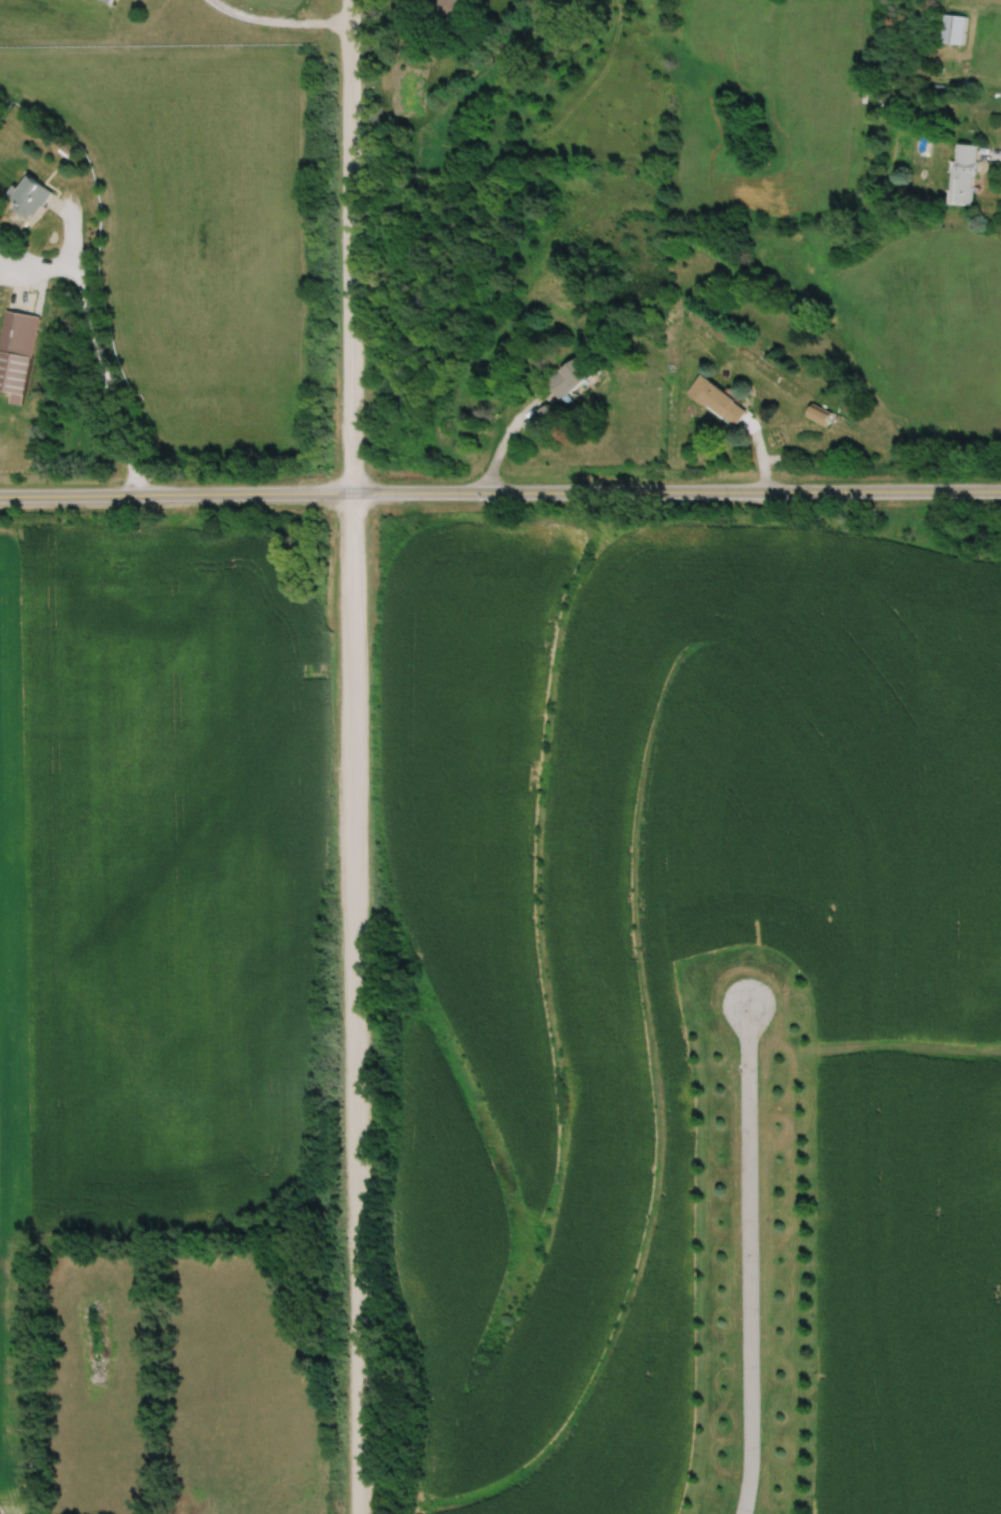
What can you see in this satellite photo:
building: (106, 1)
building: (452, 7)
road: (280, 19)
building: (952, 29)
building: (964, 173)
building: (26, 201)
road: (35, 262)
building: (15, 352)
road: (96, 354)
building: (569, 377)
building: (716, 400)
building: (817, 415)
road: (500, 491)
road: (353, 757)
crop: (544, 1042)
road: (747, 1259)

